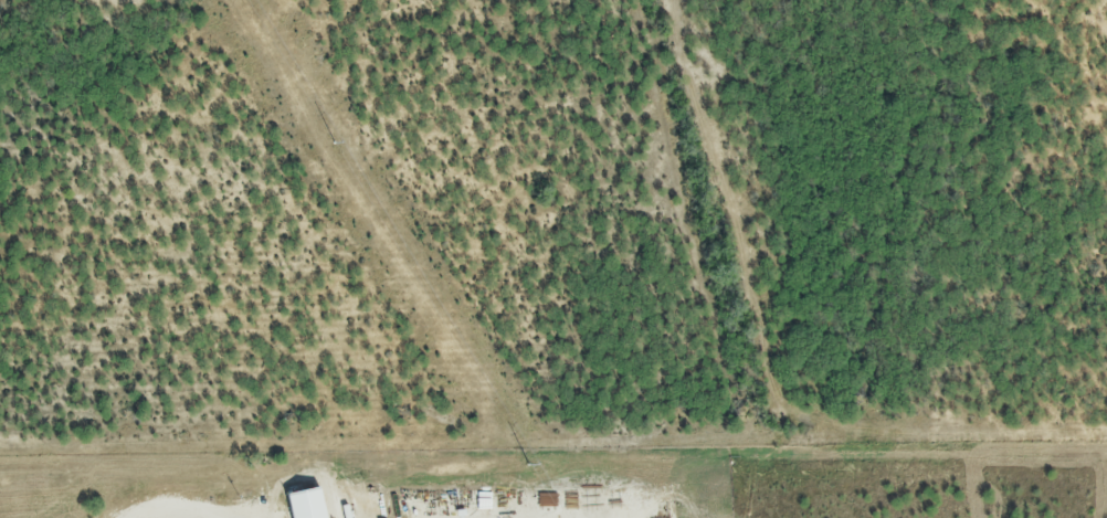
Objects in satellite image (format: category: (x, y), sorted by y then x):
power tower: (330, 136)
power tower: (526, 457)
building: (222, 480)
building: (678, 501)
building: (303, 506)

